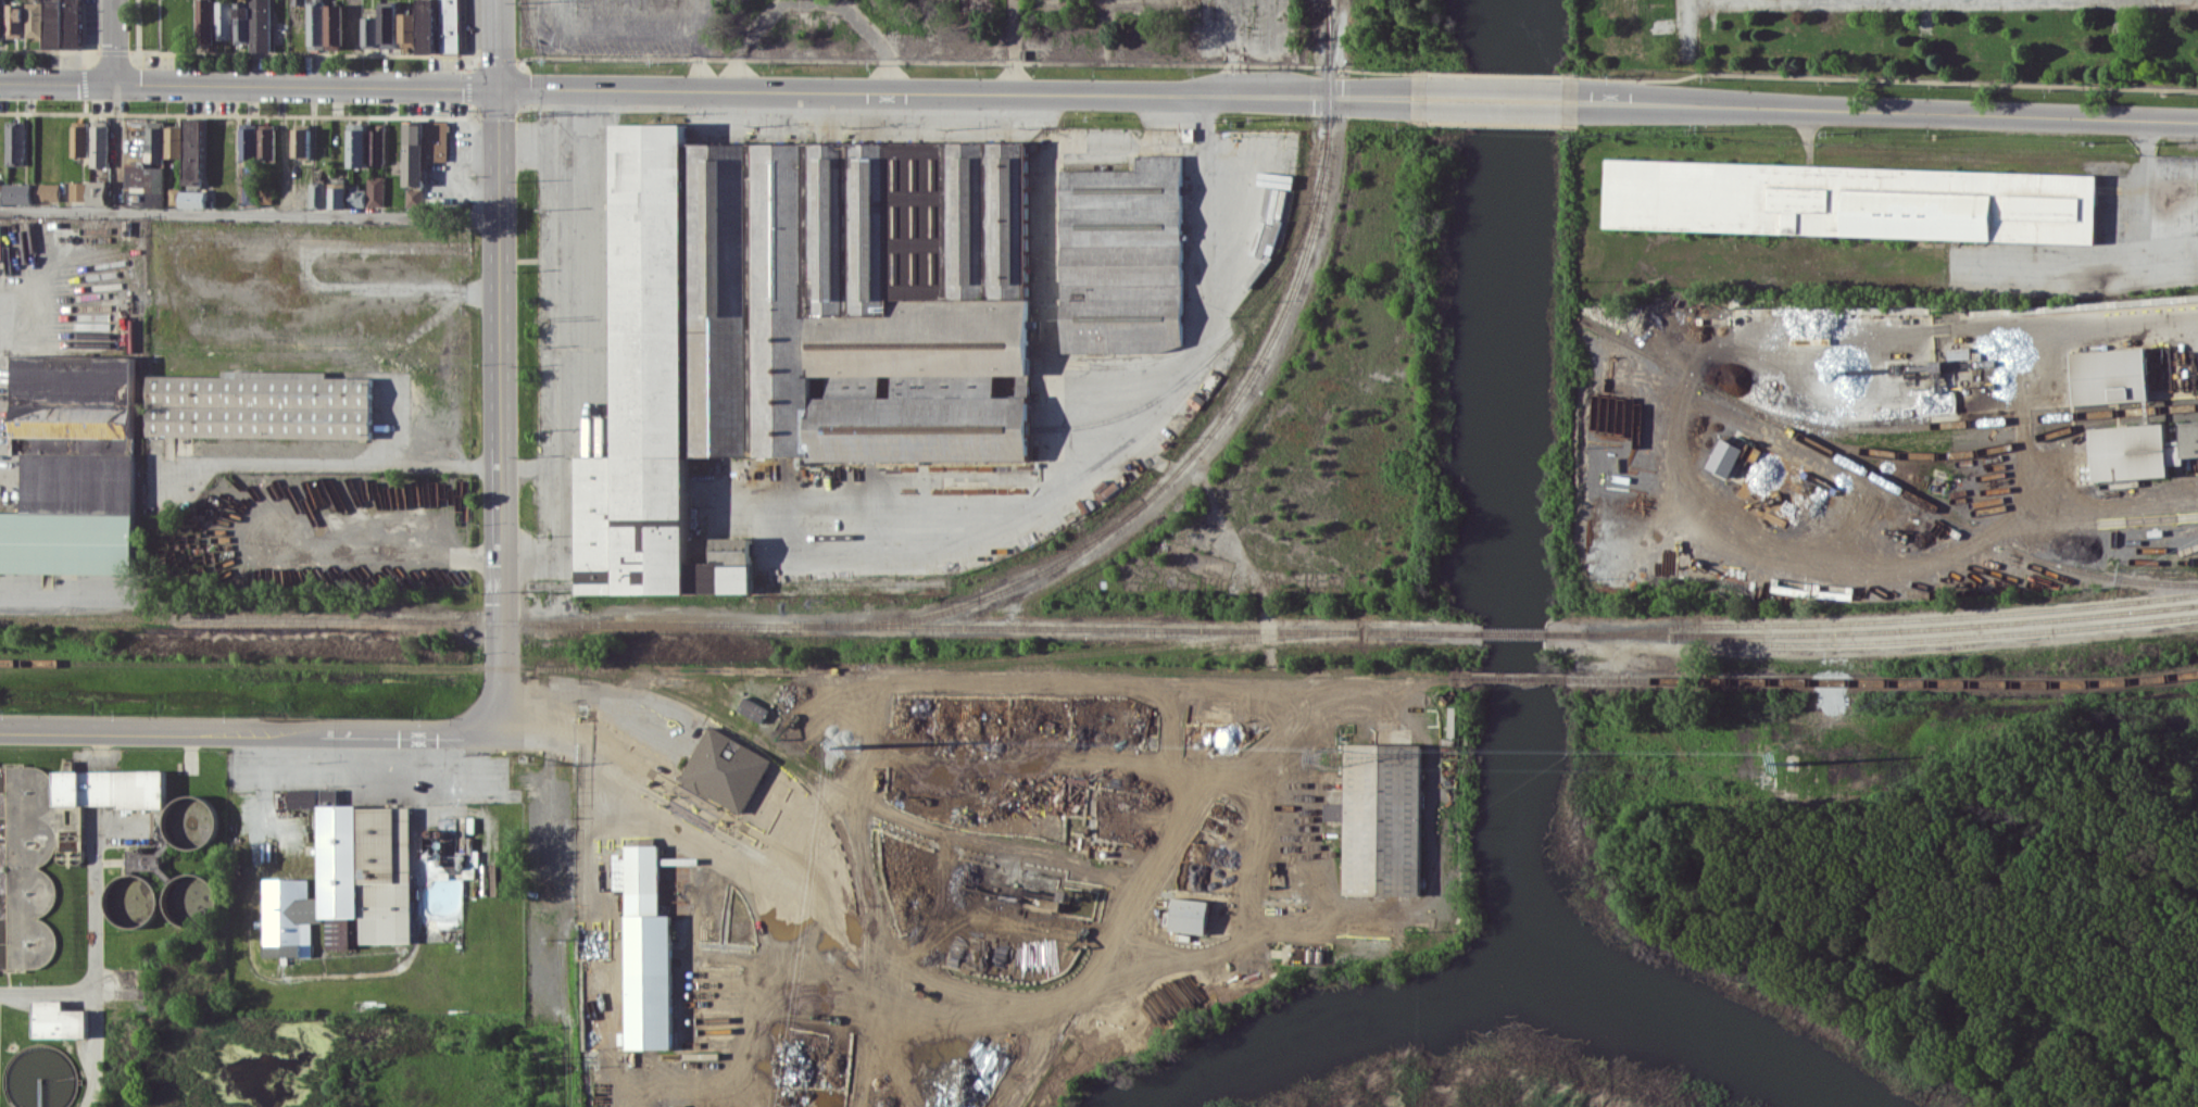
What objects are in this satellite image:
road: (1685, 0)
road: (1778, 0)
building: (298, 2)
building: (1, 18)
building: (33, 18)
building: (14, 20)
building: (223, 20)
railway: (1326, 20)
building: (204, 21)
building: (61, 24)
building: (252, 24)
building: (315, 25)
building: (450, 25)
building: (335, 26)
building: (388, 26)
building: (419, 27)
road: (1686, 27)
building: (370, 32)
road: (105, 41)
road: (498, 43)
road: (249, 85)
traffic signals: (499, 88)
road: (963, 91)
road: (1503, 99)
road: (1887, 111)
building: (79, 139)
building: (247, 140)
building: (301, 140)
building: (155, 141)
building: (173, 141)
building: (265, 141)
building: (15, 142)
building: (356, 144)
building: (99, 146)
road: (115, 146)
building: (375, 146)
building: (423, 148)
building: (192, 151)
building: (143, 177)
building: (77, 190)
building: (375, 190)
building: (47, 191)
building: (1, 192)
building: (97, 192)
building: (18, 193)
building: (318, 194)
building: (338, 194)
building: (266, 196)
building: (414, 197)
building: (187, 198)
building: (356, 198)
building: (1850, 200)
road: (249, 209)
building: (1121, 255)
road: (2117, 316)
building: (795, 328)
railway: (1230, 336)
railway: (927, 344)
railway: (1166, 356)
railway: (1066, 360)
railway: (927, 365)
building: (2108, 376)
road: (1070, 385)
building: (260, 403)
road: (499, 410)
road: (392, 420)
railway: (1947, 423)
railway: (928, 427)
railway: (1215, 428)
railway: (1968, 451)
building: (2139, 451)
building: (1725, 456)
road: (326, 460)
building: (66, 463)
railway: (1877, 477)
railway: (955, 579)
railway: (552, 582)
railway: (662, 582)
road: (62, 593)
railway: (1893, 618)
railway: (837, 627)
railway: (1873, 631)
railway: (1516, 634)
railway: (1936, 637)
railway: (1105, 651)
railway: (734, 669)
railway: (1518, 678)
railway: (1882, 683)
road: (593, 696)
building: (752, 708)
road: (251, 729)
power tower: (827, 753)
power tower: (1330, 757)
building: (721, 769)
power tower: (1835, 772)
building: (109, 787)
railway: (817, 796)
building: (301, 797)
railway: (906, 818)
building: (1382, 819)
railway: (1189, 830)
building: (32, 863)
building: (344, 884)
building: (1185, 916)
wastewater plant: (187, 940)
building: (644, 951)
road: (93, 956)
river: (1495, 969)
road: (47, 991)
building: (58, 1021)
railway: (1039, 1069)

